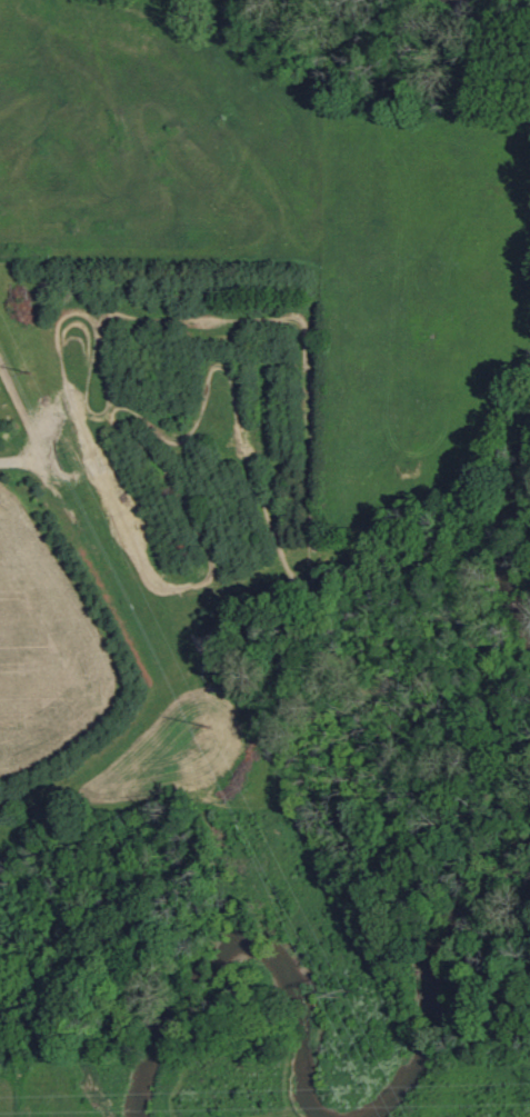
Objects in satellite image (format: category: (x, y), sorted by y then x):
power tower: (33, 371)
power tower: (213, 725)
power tower: (347, 991)

